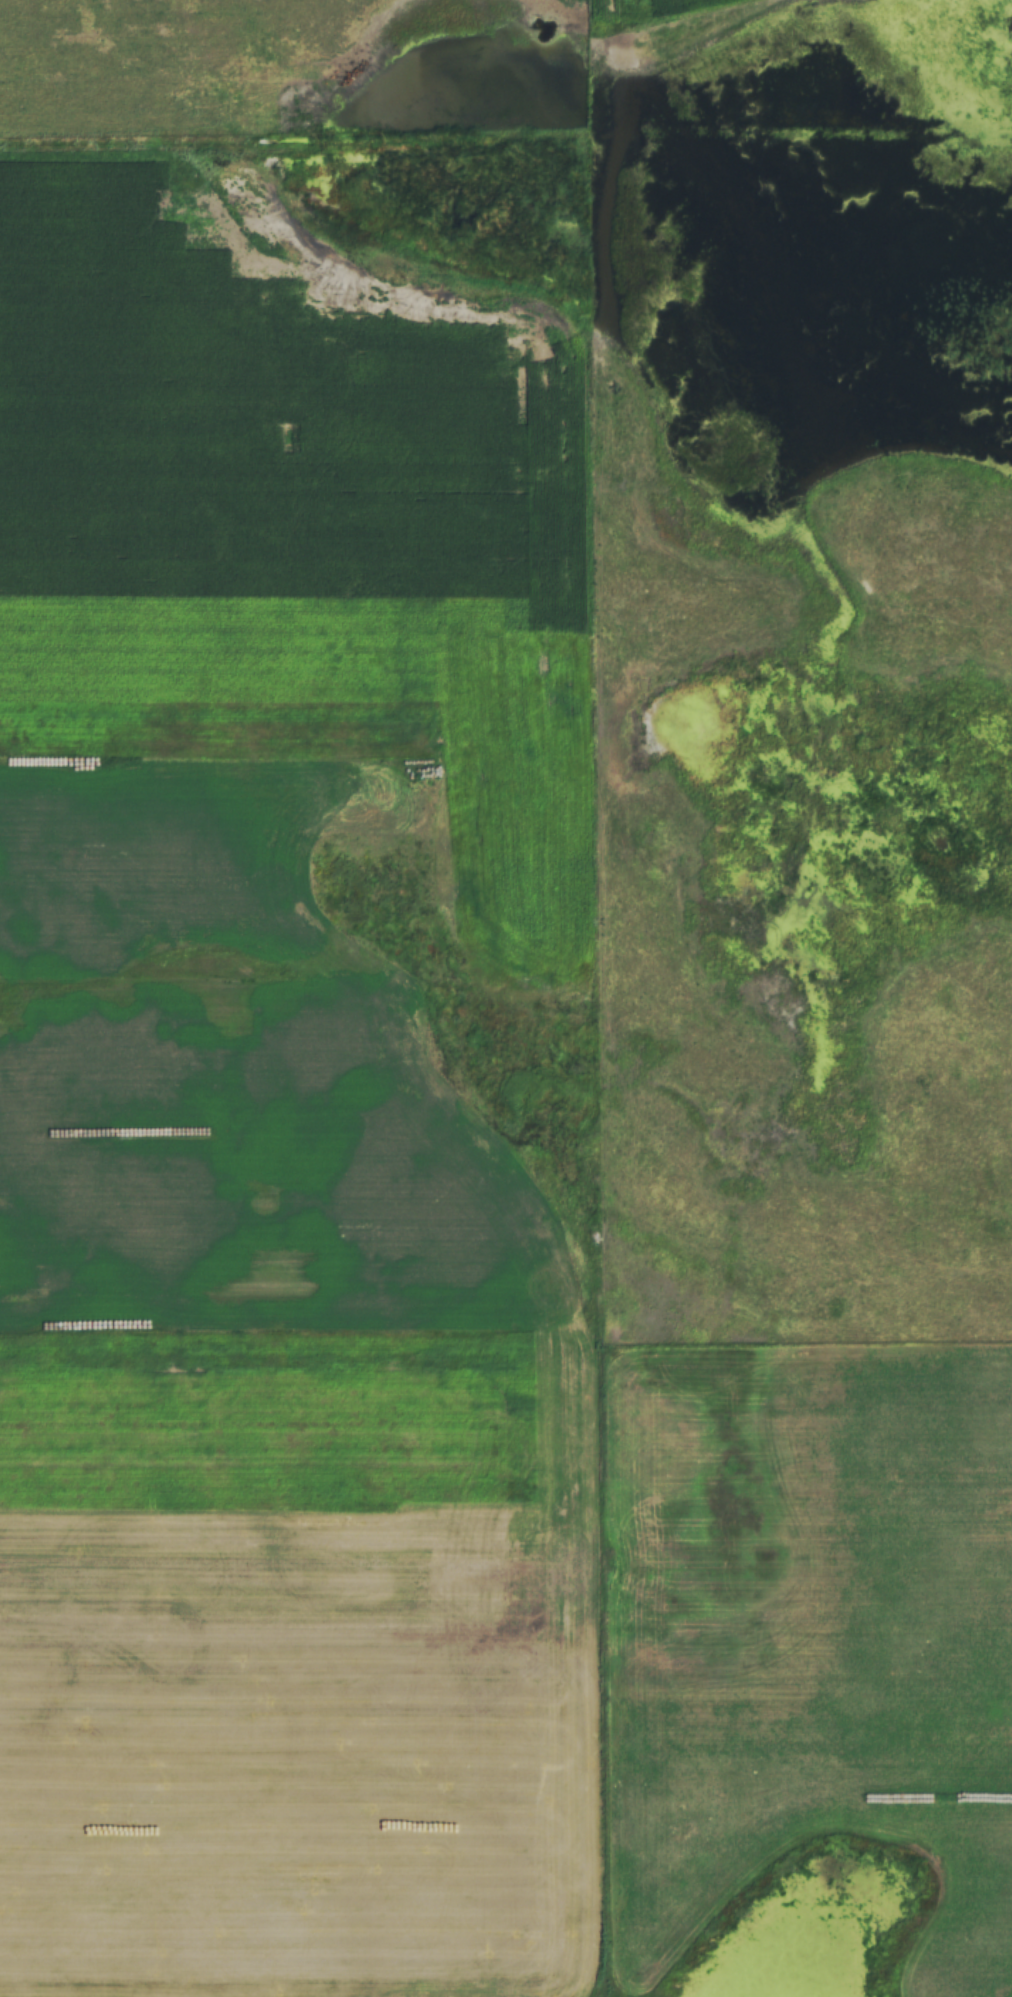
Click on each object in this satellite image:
building: (992, 1585)

